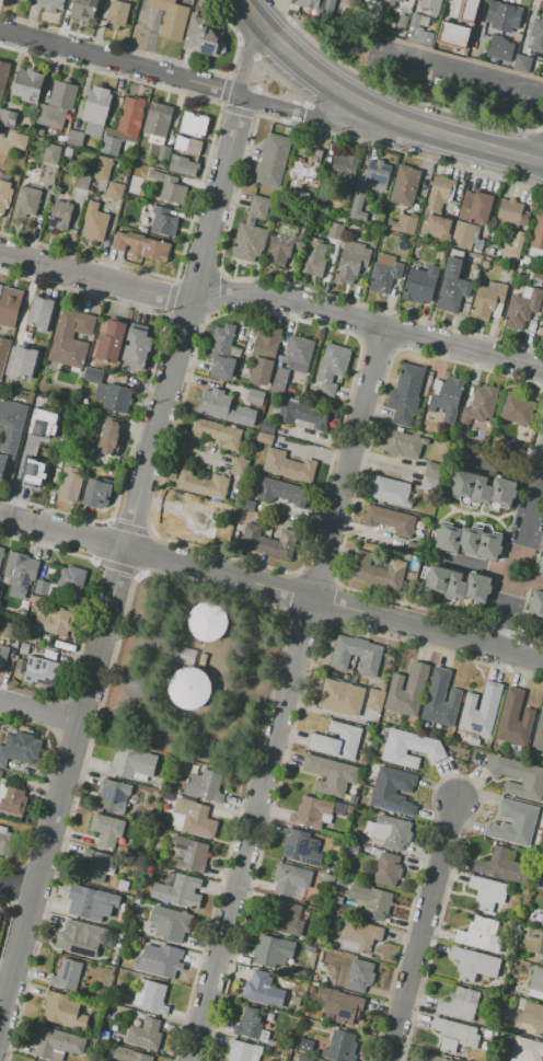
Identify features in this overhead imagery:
building: (309, 3)
building: (390, 3)
building: (51, 4)
building: (431, 5)
building: (134, 8)
building: (85, 10)
building: (470, 10)
building: (117, 13)
building: (502, 16)
building: (171, 18)
building: (401, 25)
building: (414, 27)
road: (235, 34)
building: (453, 34)
building: (536, 35)
building: (518, 36)
building: (204, 37)
building: (425, 37)
road: (114, 43)
road: (246, 46)
building: (478, 49)
building: (500, 49)
road: (244, 58)
road: (118, 60)
building: (523, 62)
road: (307, 71)
road: (463, 71)
building: (3, 77)
building: (27, 84)
road: (224, 89)
road: (256, 102)
road: (300, 102)
building: (57, 105)
road: (238, 108)
building: (95, 109)
road: (305, 115)
road: (312, 116)
building: (8, 117)
building: (128, 119)
building: (158, 122)
building: (194, 125)
building: (38, 131)
building: (76, 138)
building: (19, 140)
road: (466, 142)
building: (188, 145)
building: (111, 146)
building: (68, 152)
building: (163, 153)
building: (51, 154)
building: (271, 159)
building: (182, 165)
road: (203, 168)
building: (305, 168)
building: (103, 169)
building: (344, 171)
building: (374, 175)
building: (83, 183)
building: (134, 185)
building: (404, 186)
building: (170, 187)
building: (114, 191)
building: (443, 191)
building: (4, 194)
building: (302, 196)
building: (26, 199)
building: (358, 207)
building: (475, 207)
road: (231, 211)
building: (60, 214)
building: (511, 214)
building: (163, 221)
building: (402, 221)
building: (93, 222)
building: (439, 228)
building: (142, 230)
building: (252, 231)
building: (335, 231)
building: (465, 235)
building: (538, 237)
building: (141, 245)
building: (282, 245)
building: (516, 246)
building: (489, 251)
building: (462, 254)
building: (314, 257)
building: (524, 261)
building: (350, 262)
building: (486, 263)
building: (519, 269)
building: (383, 274)
building: (538, 275)
road: (196, 276)
building: (420, 285)
building: (452, 286)
road: (219, 293)
road: (271, 296)
road: (170, 297)
building: (487, 301)
building: (10, 307)
building: (522, 307)
building: (42, 312)
road: (184, 316)
road: (365, 321)
building: (541, 328)
road: (400, 331)
building: (71, 337)
building: (111, 342)
road: (377, 343)
building: (136, 347)
building: (223, 353)
building: (3, 354)
building: (264, 354)
building: (297, 354)
building: (22, 361)
building: (91, 364)
building: (331, 369)
building: (74, 370)
building: (279, 381)
road: (146, 390)
building: (108, 392)
building: (405, 394)
building: (255, 396)
building: (446, 397)
building: (480, 405)
building: (223, 407)
building: (517, 408)
building: (303, 414)
building: (43, 423)
building: (267, 427)
building: (10, 429)
building: (215, 433)
road: (536, 437)
building: (264, 438)
building: (111, 439)
building: (403, 443)
building: (509, 443)
building: (70, 450)
building: (41, 454)
building: (239, 465)
building: (289, 466)
building: (432, 470)
building: (429, 483)
building: (70, 484)
building: (203, 484)
building: (483, 489)
building: (390, 491)
building: (281, 492)
building: (96, 494)
road: (354, 495)
building: (247, 504)
building: (390, 520)
building: (200, 522)
road: (128, 527)
road: (157, 535)
road: (100, 539)
building: (469, 539)
building: (268, 542)
road: (46, 545)
building: (415, 546)
road: (143, 553)
building: (1, 554)
road: (120, 554)
road: (115, 565)
building: (540, 565)
building: (43, 569)
building: (385, 572)
road: (515, 572)
building: (19, 573)
building: (72, 577)
road: (315, 578)
road: (192, 584)
building: (458, 584)
building: (42, 588)
road: (270, 589)
road: (291, 592)
road: (330, 603)
building: (535, 604)
road: (157, 610)
building: (22, 612)
road: (305, 619)
building: (206, 621)
building: (55, 622)
water tower: (217, 627)
building: (12, 631)
building: (31, 636)
building: (47, 642)
building: (24, 647)
building: (36, 649)
building: (189, 655)
building: (356, 655)
building: (67, 657)
building: (3, 658)
building: (42, 670)
building: (337, 673)
building: (345, 677)
building: (355, 679)
building: (382, 685)
building: (188, 688)
building: (407, 690)
road: (289, 692)
water tower: (198, 693)
building: (342, 697)
building: (376, 699)
building: (441, 699)
road: (37, 710)
building: (481, 710)
building: (513, 718)
road: (291, 731)
building: (539, 735)
building: (337, 740)
building: (409, 748)
building: (21, 751)
building: (130, 763)
building: (0, 773)
building: (331, 774)
road: (457, 774)
building: (518, 777)
building: (205, 785)
building: (393, 789)
building: (114, 795)
building: (353, 799)
building: (13, 800)
building: (339, 808)
building: (349, 809)
building: (311, 812)
building: (195, 817)
building: (513, 822)
building: (106, 829)
building: (392, 832)
building: (8, 842)
building: (301, 847)
building: (350, 849)
building: (192, 854)
building: (95, 865)
building: (332, 866)
building: (501, 866)
building: (386, 869)
building: (290, 878)
building: (540, 884)
building: (123, 886)
road: (15, 889)
building: (178, 891)
building: (487, 892)
building: (127, 900)
building: (371, 900)
building: (86, 903)
building: (0, 916)
building: (287, 919)
building: (172, 923)
road: (418, 930)
building: (361, 934)
building: (481, 935)
building: (80, 937)
building: (310, 948)
building: (541, 948)
building: (319, 949)
building: (273, 952)
building: (164, 959)
building: (515, 962)
building: (474, 964)
building: (317, 968)
building: (66, 974)
building: (359, 976)
building: (536, 979)
building: (259, 989)
building: (124, 997)
building: (542, 997)
building: (154, 999)
building: (460, 1004)
building: (339, 1006)
building: (63, 1011)
building: (532, 1018)
building: (252, 1024)
building: (495, 1031)
building: (145, 1034)
building: (486, 1034)
building: (104, 1035)
building: (454, 1035)
building: (56, 1043)
building: (484, 1046)
building: (339, 1047)
building: (525, 1050)
building: (242, 1051)
building: (129, 1054)
building: (435, 1058)
building: (303, 1059)

